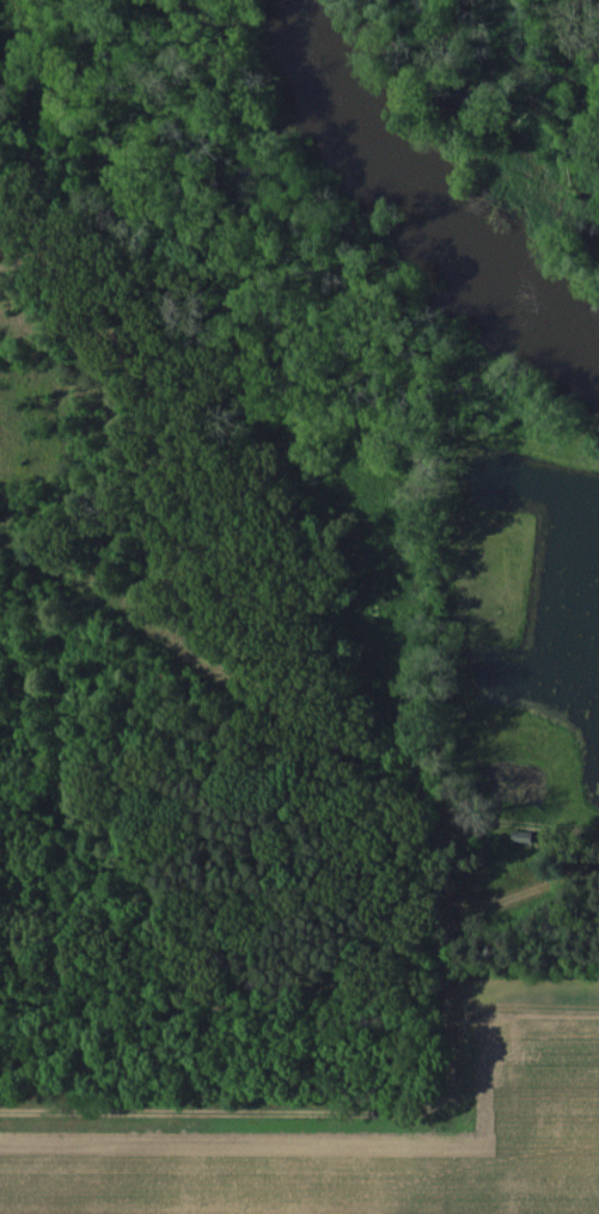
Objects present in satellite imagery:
river: (430, 208)
road: (422, 614)
road: (252, 663)
road: (204, 970)

